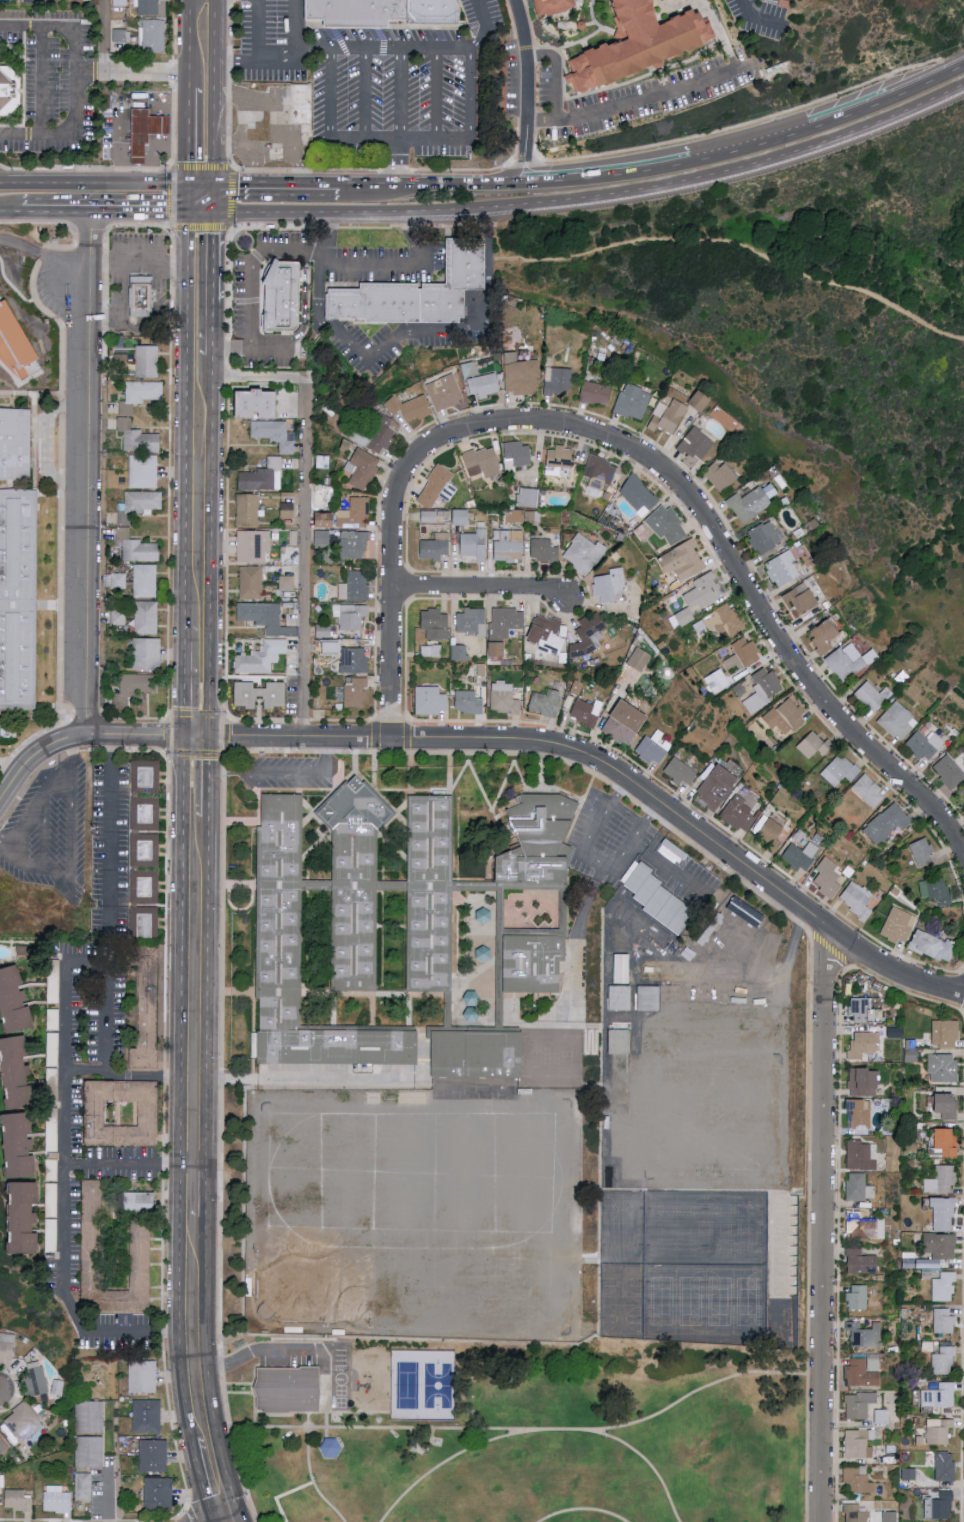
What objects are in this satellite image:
road: (34, 1)
building: (74, 1)
road: (666, 1)
building: (551, 6)
building: (151, 7)
building: (353, 13)
building: (426, 13)
road: (759, 16)
parking lot: (761, 17)
road: (296, 25)
road: (492, 30)
road: (215, 31)
road: (260, 32)
building: (152, 35)
road: (337, 35)
road: (380, 35)
road: (104, 36)
road: (187, 41)
building: (644, 45)
road: (343, 48)
road: (383, 48)
road: (338, 49)
road: (957, 49)
road: (958, 67)
road: (146, 71)
road: (89, 72)
road: (557, 77)
road: (525, 78)
road: (73, 81)
road: (43, 82)
road: (187, 87)
building: (8, 93)
road: (669, 93)
road: (331, 94)
road: (365, 94)
road: (399, 94)
road: (435, 94)
road: (470, 94)
road: (248, 95)
parking lot: (657, 97)
road: (883, 100)
parking lot: (550, 104)
road: (161, 106)
building: (299, 106)
building: (257, 117)
road: (215, 125)
building: (149, 133)
road: (187, 139)
road: (400, 140)
road: (278, 143)
building: (276, 150)
road: (118, 151)
road: (688, 161)
road: (252, 164)
road: (398, 164)
road: (731, 170)
road: (541, 171)
road: (505, 173)
road: (93, 184)
road: (237, 186)
traffic signals: (186, 187)
road: (200, 187)
traffic signals: (214, 187)
road: (316, 187)
road: (467, 187)
road: (187, 199)
road: (213, 199)
road: (10, 207)
road: (104, 209)
traffic signals: (188, 212)
road: (200, 212)
traffic signals: (213, 212)
road: (220, 212)
road: (358, 214)
road: (736, 244)
road: (43, 257)
road: (213, 257)
road: (139, 262)
road: (402, 266)
road: (251, 267)
road: (55, 295)
building: (415, 295)
building: (141, 296)
building: (281, 296)
road: (306, 302)
road: (120, 310)
road: (160, 317)
road: (212, 326)
park: (804, 330)
road: (413, 335)
building: (14, 344)
road: (270, 344)
road: (212, 354)
building: (121, 359)
building: (147, 361)
building: (521, 375)
building: (560, 382)
building: (484, 385)
building: (445, 392)
building: (597, 393)
building: (141, 395)
building: (701, 401)
building: (633, 402)
building: (261, 404)
building: (411, 408)
building: (668, 416)
road: (186, 419)
building: (275, 433)
building: (384, 435)
building: (139, 437)
building: (696, 443)
building: (16, 444)
road: (44, 445)
building: (518, 453)
building: (559, 460)
building: (482, 462)
building: (363, 468)
building: (144, 471)
building: (600, 472)
road: (86, 473)
building: (721, 475)
building: (263, 476)
building: (639, 495)
building: (529, 497)
building: (143, 501)
building: (751, 503)
building: (248, 510)
building: (288, 510)
building: (355, 513)
road: (304, 514)
building: (433, 515)
building: (514, 516)
building: (461, 517)
building: (324, 520)
building: (667, 525)
building: (765, 537)
building: (353, 544)
building: (474, 544)
building: (509, 545)
road: (209, 546)
building: (253, 546)
building: (436, 547)
building: (544, 550)
building: (584, 553)
building: (685, 560)
road: (735, 568)
building: (783, 569)
building: (287, 580)
building: (144, 582)
building: (251, 582)
road: (392, 584)
building: (610, 585)
building: (354, 586)
road: (478, 589)
building: (705, 590)
building: (801, 598)
building: (20, 603)
building: (262, 615)
building: (350, 616)
building: (684, 616)
building: (145, 619)
building: (506, 621)
building: (724, 621)
building: (471, 622)
building: (436, 624)
building: (548, 633)
building: (588, 635)
building: (826, 636)
building: (498, 650)
building: (460, 652)
building: (747, 652)
building: (145, 654)
building: (262, 657)
building: (640, 659)
building: (354, 660)
building: (732, 661)
road: (184, 681)
building: (717, 681)
building: (135, 687)
building: (763, 689)
building: (357, 693)
building: (261, 695)
building: (873, 696)
building: (504, 698)
building: (431, 701)
building: (469, 702)
building: (546, 702)
building: (586, 711)
building: (632, 716)
building: (786, 717)
building: (898, 721)
traffic signals: (184, 735)
traffic signals: (208, 737)
building: (814, 745)
building: (926, 745)
road: (563, 746)
building: (654, 748)
building: (0, 749)
road: (37, 761)
road: (70, 766)
building: (840, 770)
road: (286, 771)
building: (949, 771)
building: (681, 772)
parking lot: (292, 773)
road: (207, 777)
building: (147, 780)
building: (717, 787)
building: (869, 791)
road: (31, 814)
building: (148, 817)
road: (629, 817)
building: (752, 821)
building: (888, 822)
parking lot: (49, 831)
road: (43, 832)
road: (112, 832)
road: (5, 842)
building: (532, 842)
parking lot: (607, 842)
parking lot: (109, 851)
building: (922, 851)
building: (147, 853)
building: (801, 855)
road: (68, 859)
road: (593, 862)
road: (669, 872)
building: (828, 876)
parking lot: (693, 884)
building: (936, 889)
building: (147, 890)
building: (857, 898)
building: (656, 900)
building: (434, 901)
building: (360, 906)
building: (758, 924)
building: (899, 924)
building: (147, 926)
building: (935, 945)
road: (87, 960)
building: (772, 963)
building: (534, 965)
building: (308, 970)
building: (730, 978)
building: (626, 990)
road: (206, 992)
building: (650, 997)
building: (17, 999)
building: (860, 1009)
building: (662, 1025)
building: (946, 1033)
building: (864, 1044)
building: (482, 1059)
building: (943, 1067)
building: (19, 1071)
building: (625, 1072)
road: (314, 1080)
building: (864, 1081)
road: (182, 1088)
building: (949, 1106)
building: (122, 1112)
building: (860, 1113)
building: (948, 1141)
building: (21, 1144)
building: (863, 1155)
road: (134, 1166)
building: (942, 1179)
building: (859, 1187)
road: (206, 1192)
road: (64, 1193)
building: (944, 1214)
building: (93, 1215)
building: (27, 1217)
road: (828, 1226)
building: (864, 1226)
building: (938, 1248)
building: (139, 1250)
building: (862, 1262)
building: (944, 1286)
building: (858, 1297)
building: (944, 1321)
building: (864, 1334)
building: (7, 1347)
road: (286, 1358)
building: (944, 1360)
road: (207, 1370)
building: (861, 1373)
building: (142, 1377)
building: (37, 1381)
park: (407, 1387)
park: (439, 1387)
building: (286, 1389)
building: (940, 1395)
building: (859, 1404)
building: (89, 1416)
building: (881, 1416)
building: (146, 1417)
building: (23, 1420)
park: (519, 1430)
building: (938, 1430)
road: (526, 1431)
building: (858, 1444)
building: (3, 1445)
building: (88, 1453)
building: (153, 1457)
road: (447, 1461)
road: (654, 1464)
building: (945, 1467)
building: (860, 1480)
road: (203, 1482)
road: (314, 1482)
building: (84, 1485)
building: (157, 1495)
road: (283, 1495)
road: (107, 1497)
building: (57, 1499)
building: (17, 1500)
building: (939, 1506)
road: (585, 1510)
building: (855, 1514)
building: (890, 1516)
traffic signals: (242, 1519)
road: (237, 1520)
road: (242, 1520)

